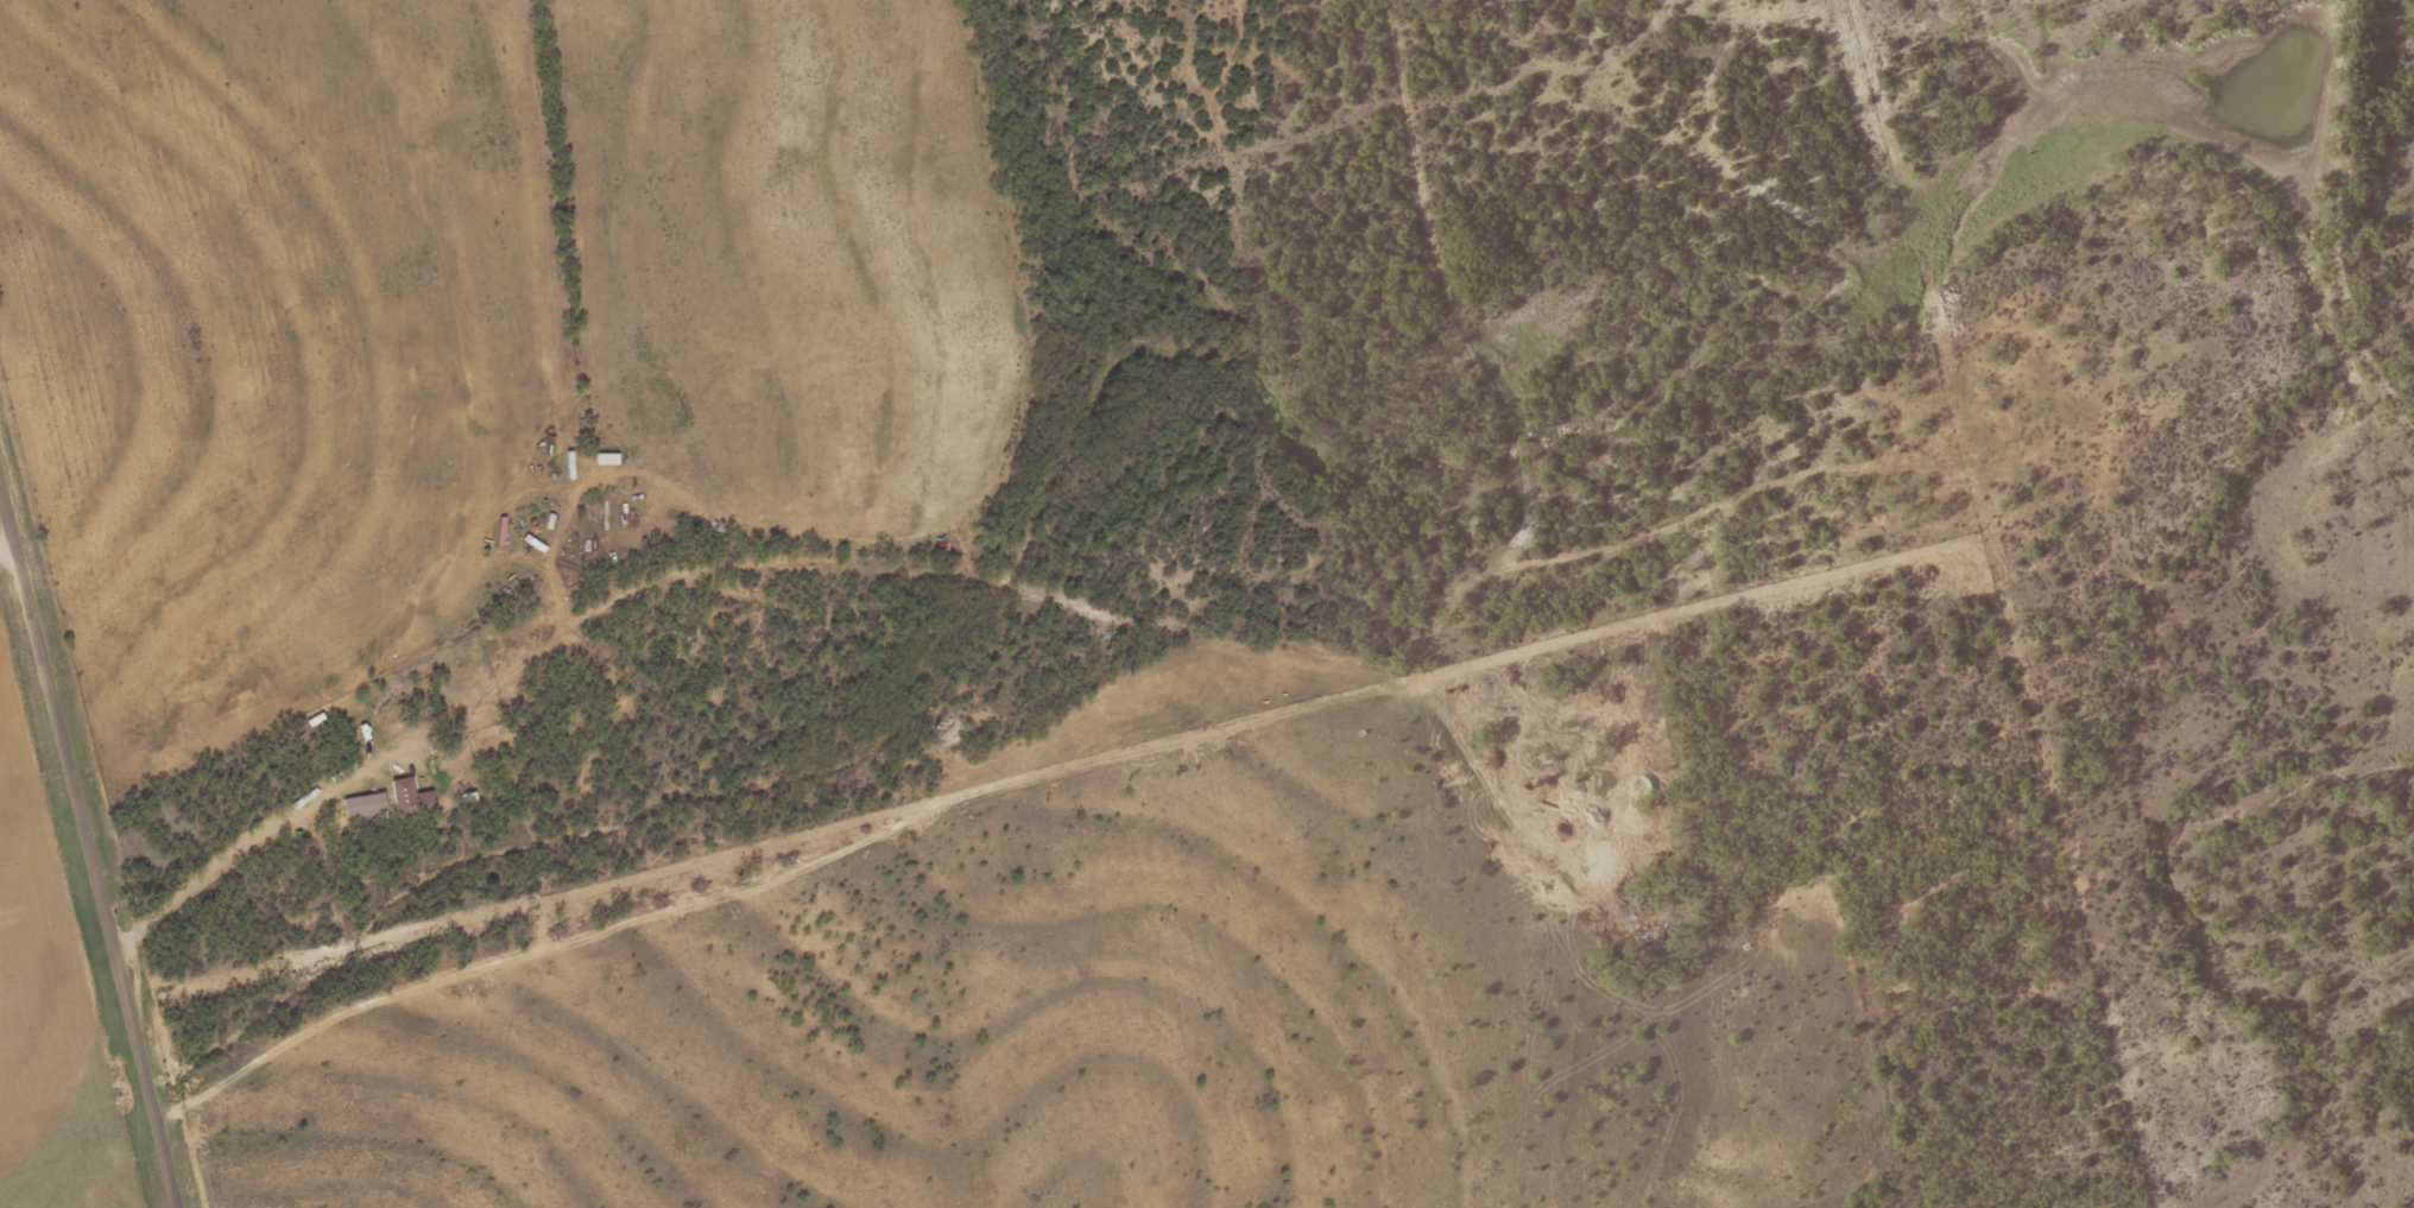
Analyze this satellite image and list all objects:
road: (8, 540)
road: (765, 558)
building: (1554, 791)
building: (368, 805)
road: (89, 837)

